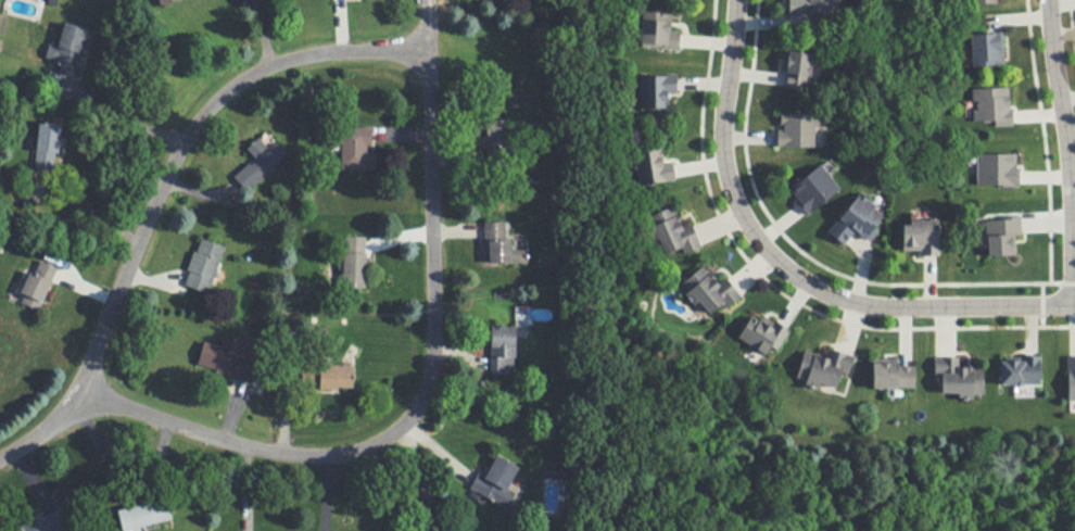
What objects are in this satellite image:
building: (985, 0)
building: (167, 1)
building: (811, 8)
building: (661, 27)
road: (260, 30)
building: (74, 43)
building: (989, 47)
building: (798, 67)
building: (659, 90)
building: (992, 105)
road: (122, 116)
building: (799, 129)
road: (180, 140)
building: (49, 144)
building: (358, 148)
road: (1070, 151)
building: (260, 162)
building: (658, 166)
building: (859, 219)
building: (673, 231)
building: (922, 235)
building: (501, 244)
building: (204, 264)
building: (354, 264)
road: (789, 271)
building: (39, 280)
building: (709, 289)
building: (764, 332)
building: (502, 350)
building: (228, 358)
building: (825, 367)
building: (1023, 368)
building: (896, 375)
building: (338, 376)
building: (960, 376)
building: (1072, 377)
road: (422, 385)
road: (42, 427)
building: (499, 479)
road: (421, 482)
building: (150, 513)

